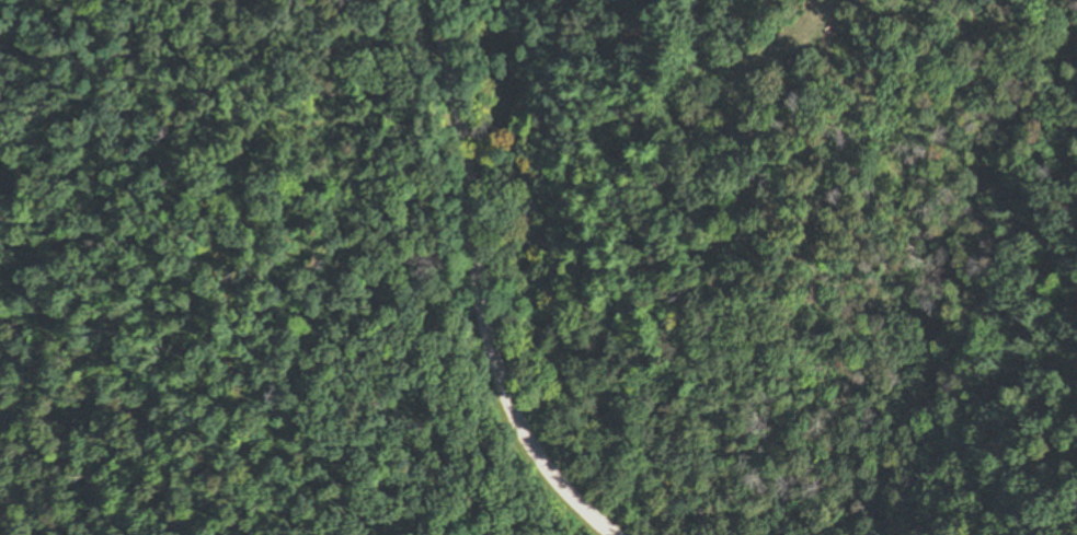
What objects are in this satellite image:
road: (451, 289)

